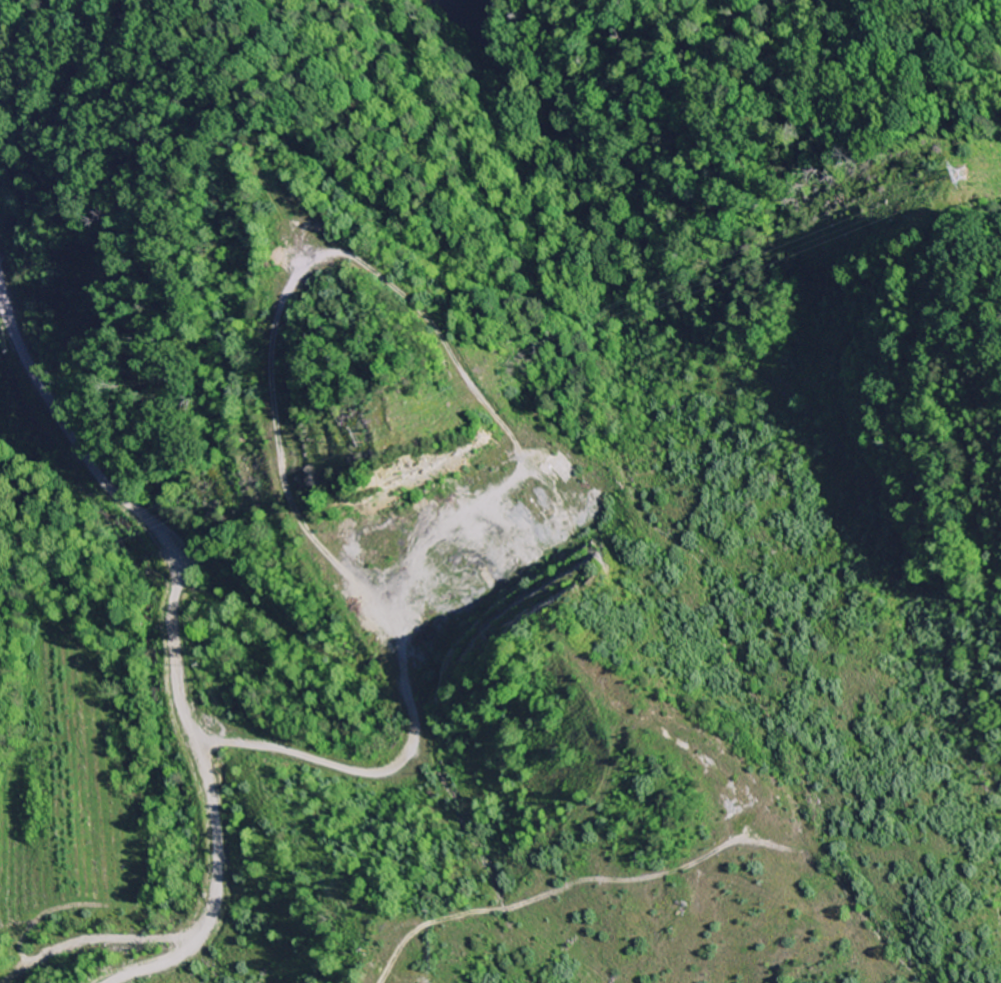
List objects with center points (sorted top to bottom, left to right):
building: (552, 466)
building: (457, 482)
building: (496, 508)
road: (178, 643)

